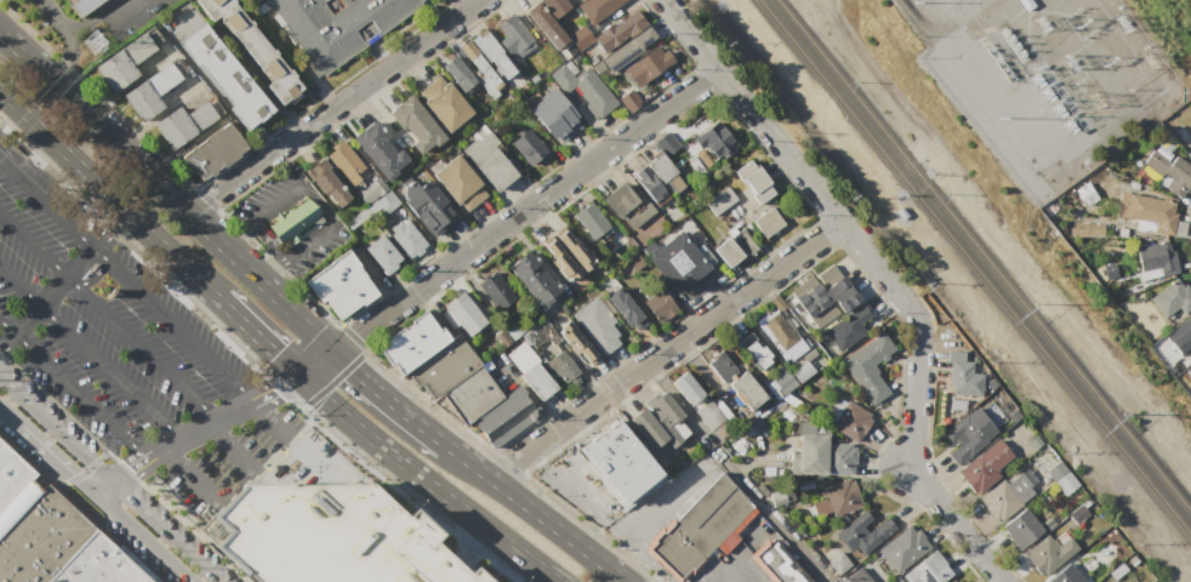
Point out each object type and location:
building: (572, 1)
building: (1026, 4)
building: (81, 5)
road: (460, 6)
building: (553, 7)
building: (597, 8)
road: (184, 25)
building: (334, 25)
building: (545, 28)
park: (1168, 30)
building: (619, 32)
building: (511, 35)
building: (579, 38)
road: (72, 40)
power tower: (95, 41)
building: (634, 45)
building: (253, 47)
building: (492, 55)
building: (474, 58)
building: (126, 59)
building: (648, 65)
road: (250, 70)
power substation: (1045, 73)
building: (458, 75)
building: (222, 78)
building: (585, 89)
building: (152, 90)
road: (4, 99)
building: (629, 101)
building: (444, 103)
road: (335, 105)
building: (555, 119)
building: (186, 121)
building: (415, 126)
building: (1180, 130)
building: (1190, 137)
building: (714, 141)
building: (667, 142)
building: (529, 147)
building: (378, 150)
building: (211, 154)
building: (488, 159)
building: (346, 165)
building: (1167, 171)
building: (665, 173)
building: (753, 182)
building: (458, 184)
building: (648, 184)
building: (329, 189)
building: (370, 189)
road: (165, 192)
road: (108, 193)
road: (318, 200)
building: (386, 200)
building: (620, 201)
building: (719, 201)
building: (427, 206)
building: (1151, 211)
building: (292, 221)
road: (508, 222)
building: (591, 222)
building: (767, 222)
building: (1085, 227)
road: (233, 229)
building: (406, 235)
road: (266, 238)
building: (743, 241)
building: (575, 250)
building: (726, 252)
building: (382, 255)
railway: (984, 256)
building: (1156, 258)
building: (560, 262)
building: (634, 263)
building: (678, 263)
railway: (975, 268)
road: (270, 269)
road: (881, 275)
road: (63, 278)
road: (127, 278)
building: (534, 280)
building: (839, 284)
building: (338, 287)
building: (495, 291)
building: (815, 291)
building: (1172, 297)
building: (853, 299)
building: (802, 302)
building: (821, 303)
building: (657, 304)
building: (843, 307)
building: (625, 309)
building: (808, 312)
road: (108, 315)
building: (463, 315)
building: (1187, 323)
building: (598, 326)
building: (850, 327)
building: (779, 330)
road: (257, 336)
building: (501, 337)
building: (577, 343)
building: (411, 346)
road: (665, 349)
traffic signals: (332, 350)
road: (91, 352)
building: (757, 355)
parking lot: (139, 356)
building: (954, 356)
building: (720, 366)
road: (351, 367)
building: (867, 367)
building: (562, 369)
building: (443, 370)
building: (802, 371)
traffic signals: (298, 376)
building: (1186, 378)
building: (964, 380)
building: (537, 382)
building: (780, 384)
road: (74, 388)
building: (686, 389)
building: (746, 393)
building: (471, 396)
road: (250, 400)
road: (391, 400)
building: (991, 412)
building: (708, 415)
building: (1013, 416)
road: (10, 420)
building: (849, 421)
building: (507, 422)
building: (657, 426)
road: (53, 427)
building: (807, 427)
road: (194, 433)
building: (965, 435)
road: (294, 436)
building: (1033, 441)
road: (172, 444)
road: (632, 449)
road: (230, 452)
road: (154, 453)
building: (811, 456)
road: (52, 460)
building: (840, 460)
road: (130, 467)
building: (986, 467)
road: (85, 474)
building: (1058, 474)
road: (188, 477)
road: (426, 481)
road: (98, 484)
building: (1005, 496)
road: (668, 500)
building: (833, 500)
road: (538, 515)
road: (779, 520)
building: (699, 529)
building: (867, 529)
building: (1021, 529)
road: (164, 530)
building: (50, 535)
road: (139, 535)
building: (326, 535)
road: (748, 541)
road: (469, 543)
road: (619, 549)
building: (904, 549)
building: (1050, 552)
road: (734, 557)
building: (776, 564)
building: (838, 564)
building: (929, 570)
building: (1066, 576)
building: (859, 577)
road: (552, 580)
building: (953, 580)

